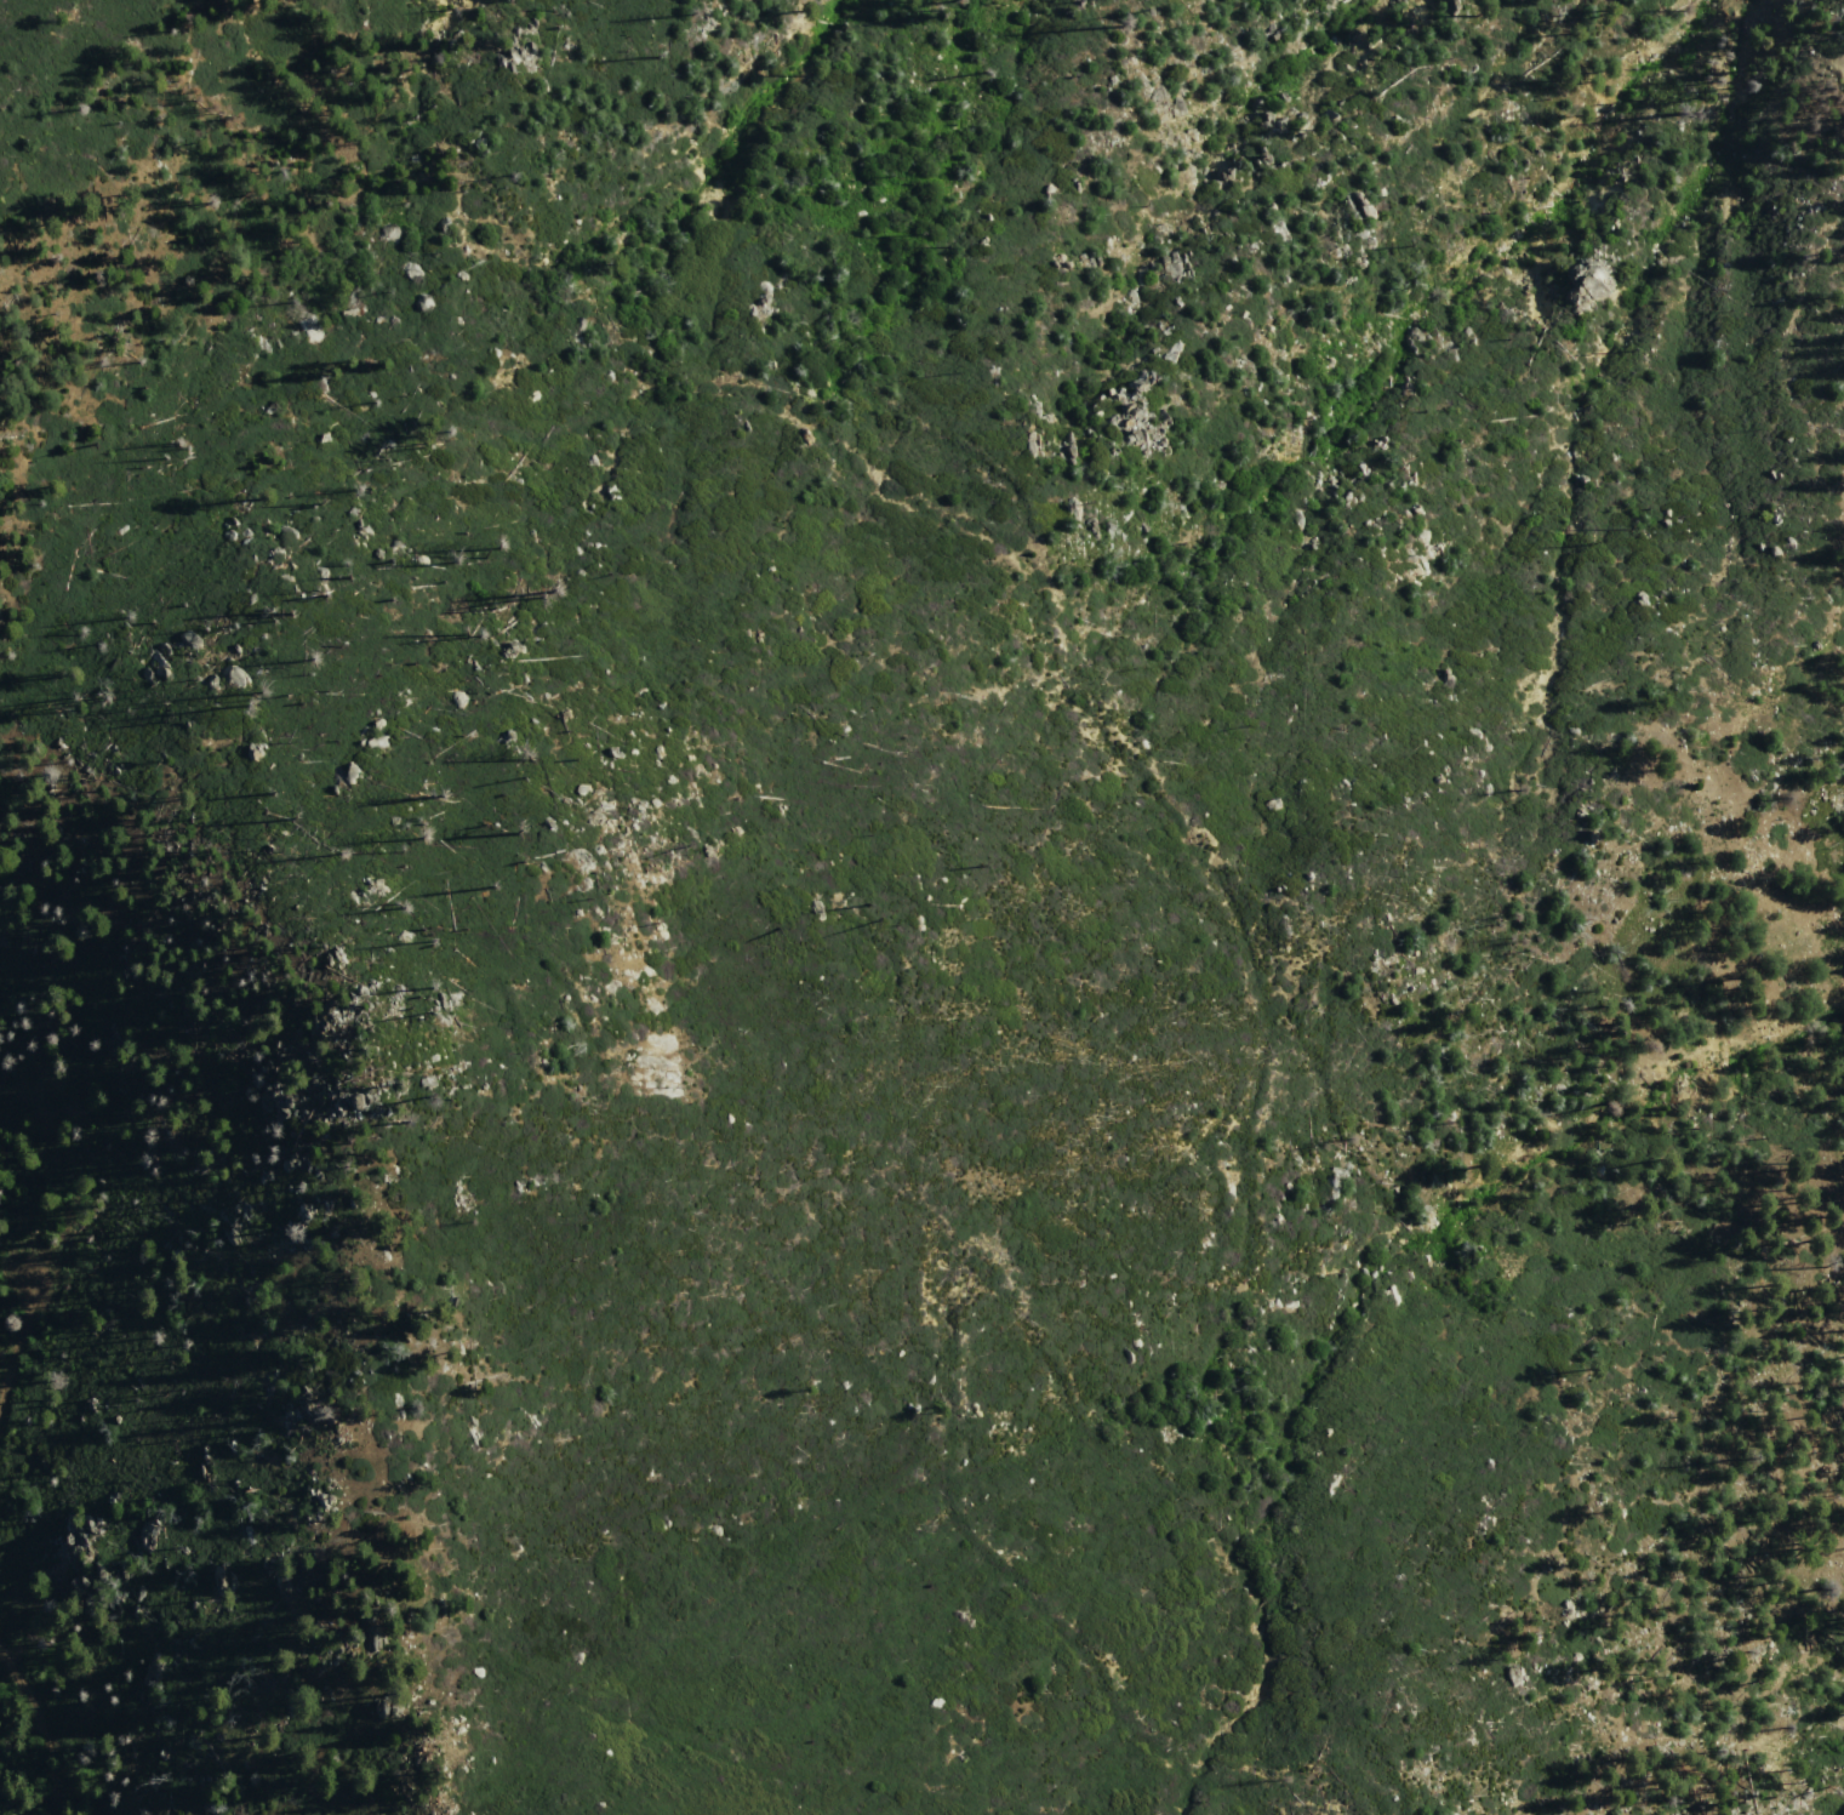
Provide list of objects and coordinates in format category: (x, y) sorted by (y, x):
road: (747, 403)

